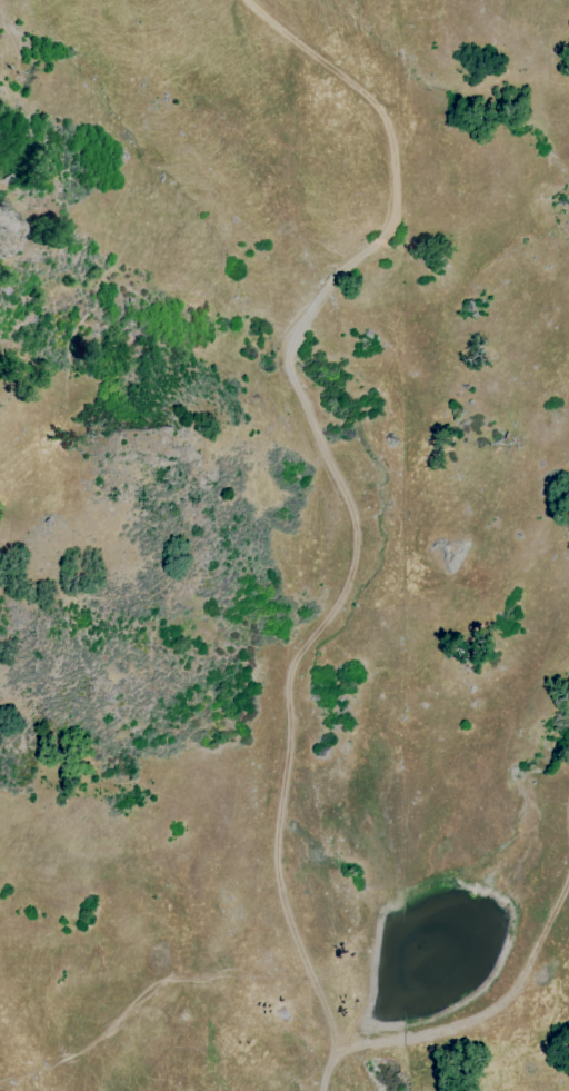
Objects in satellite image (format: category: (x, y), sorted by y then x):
road: (345, 486)
road: (472, 1031)

